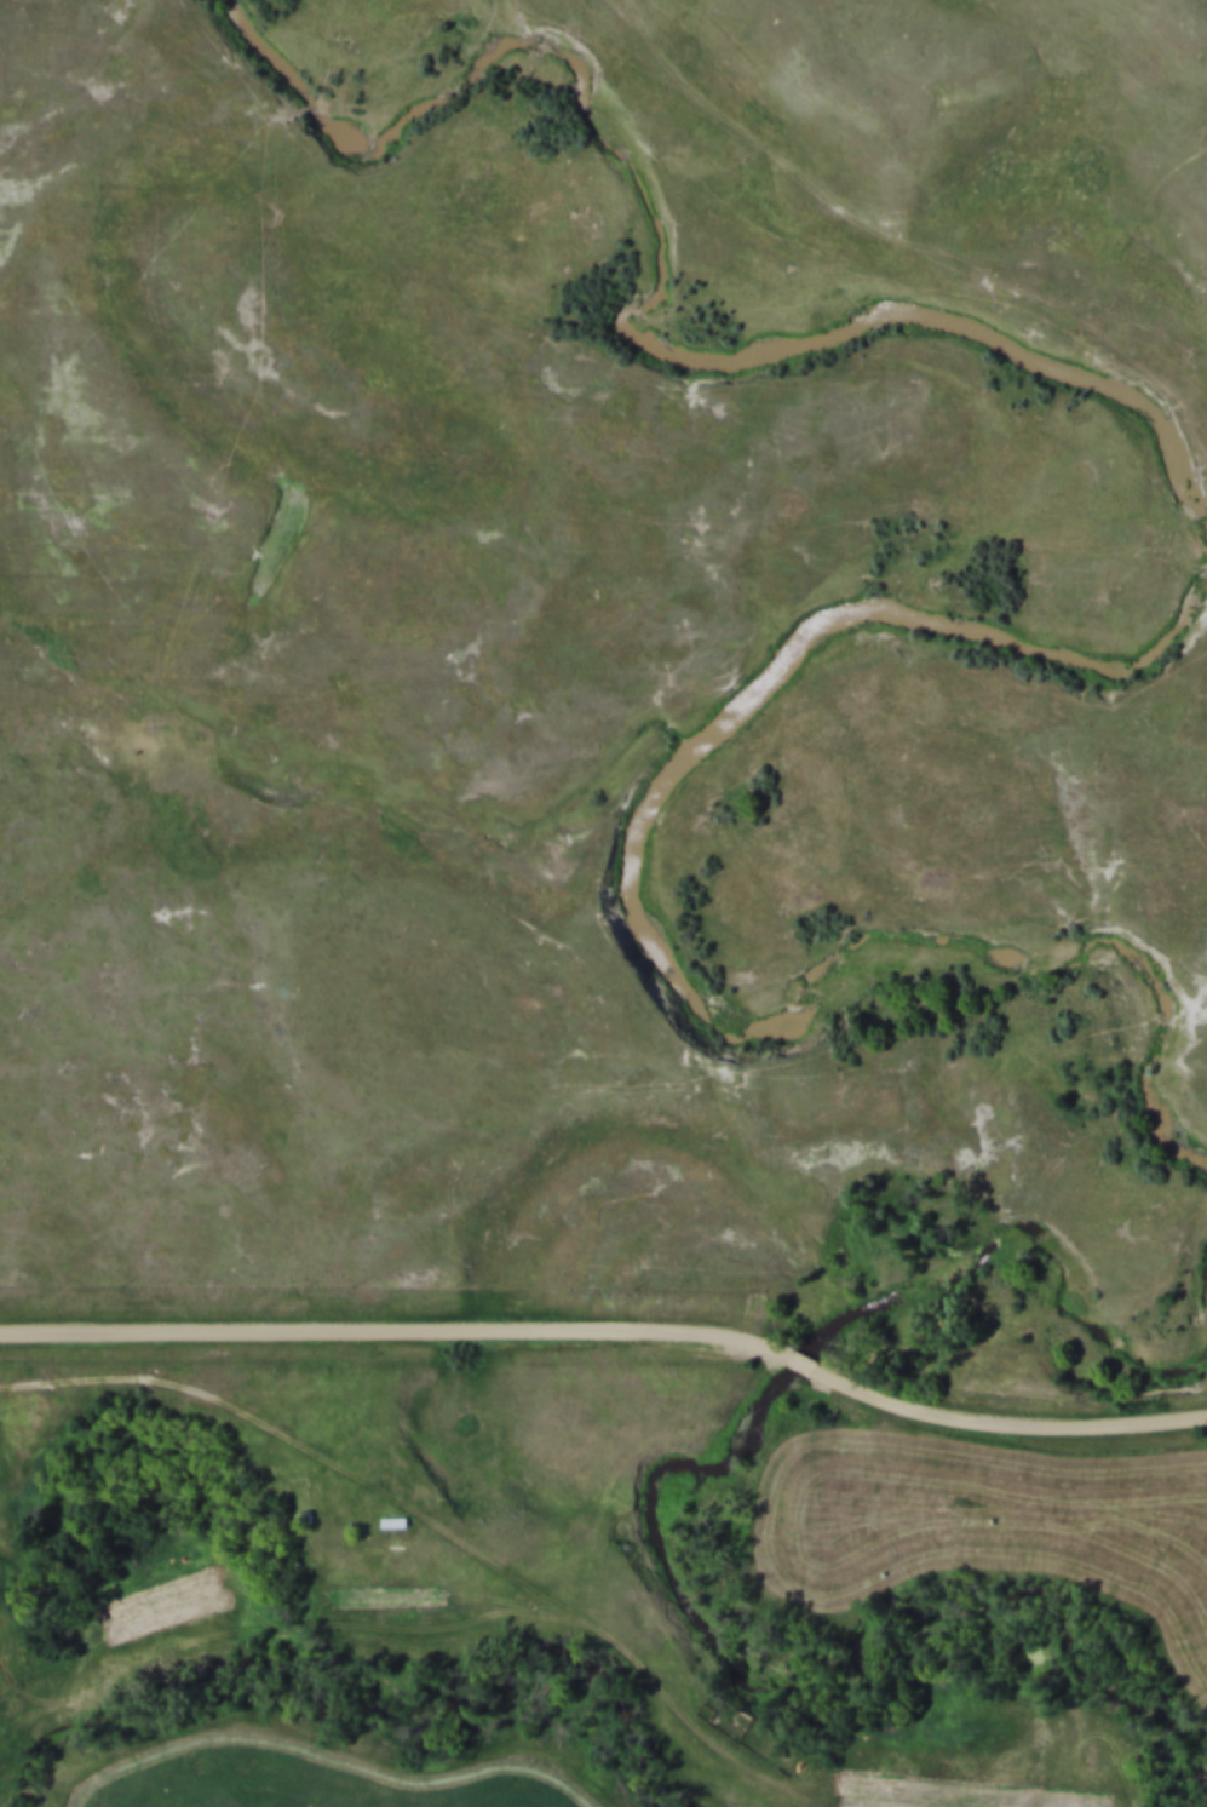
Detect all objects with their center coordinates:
road: (395, 1324)
road: (799, 1358)
road: (194, 1378)
road: (1005, 1421)
building: (395, 1518)

